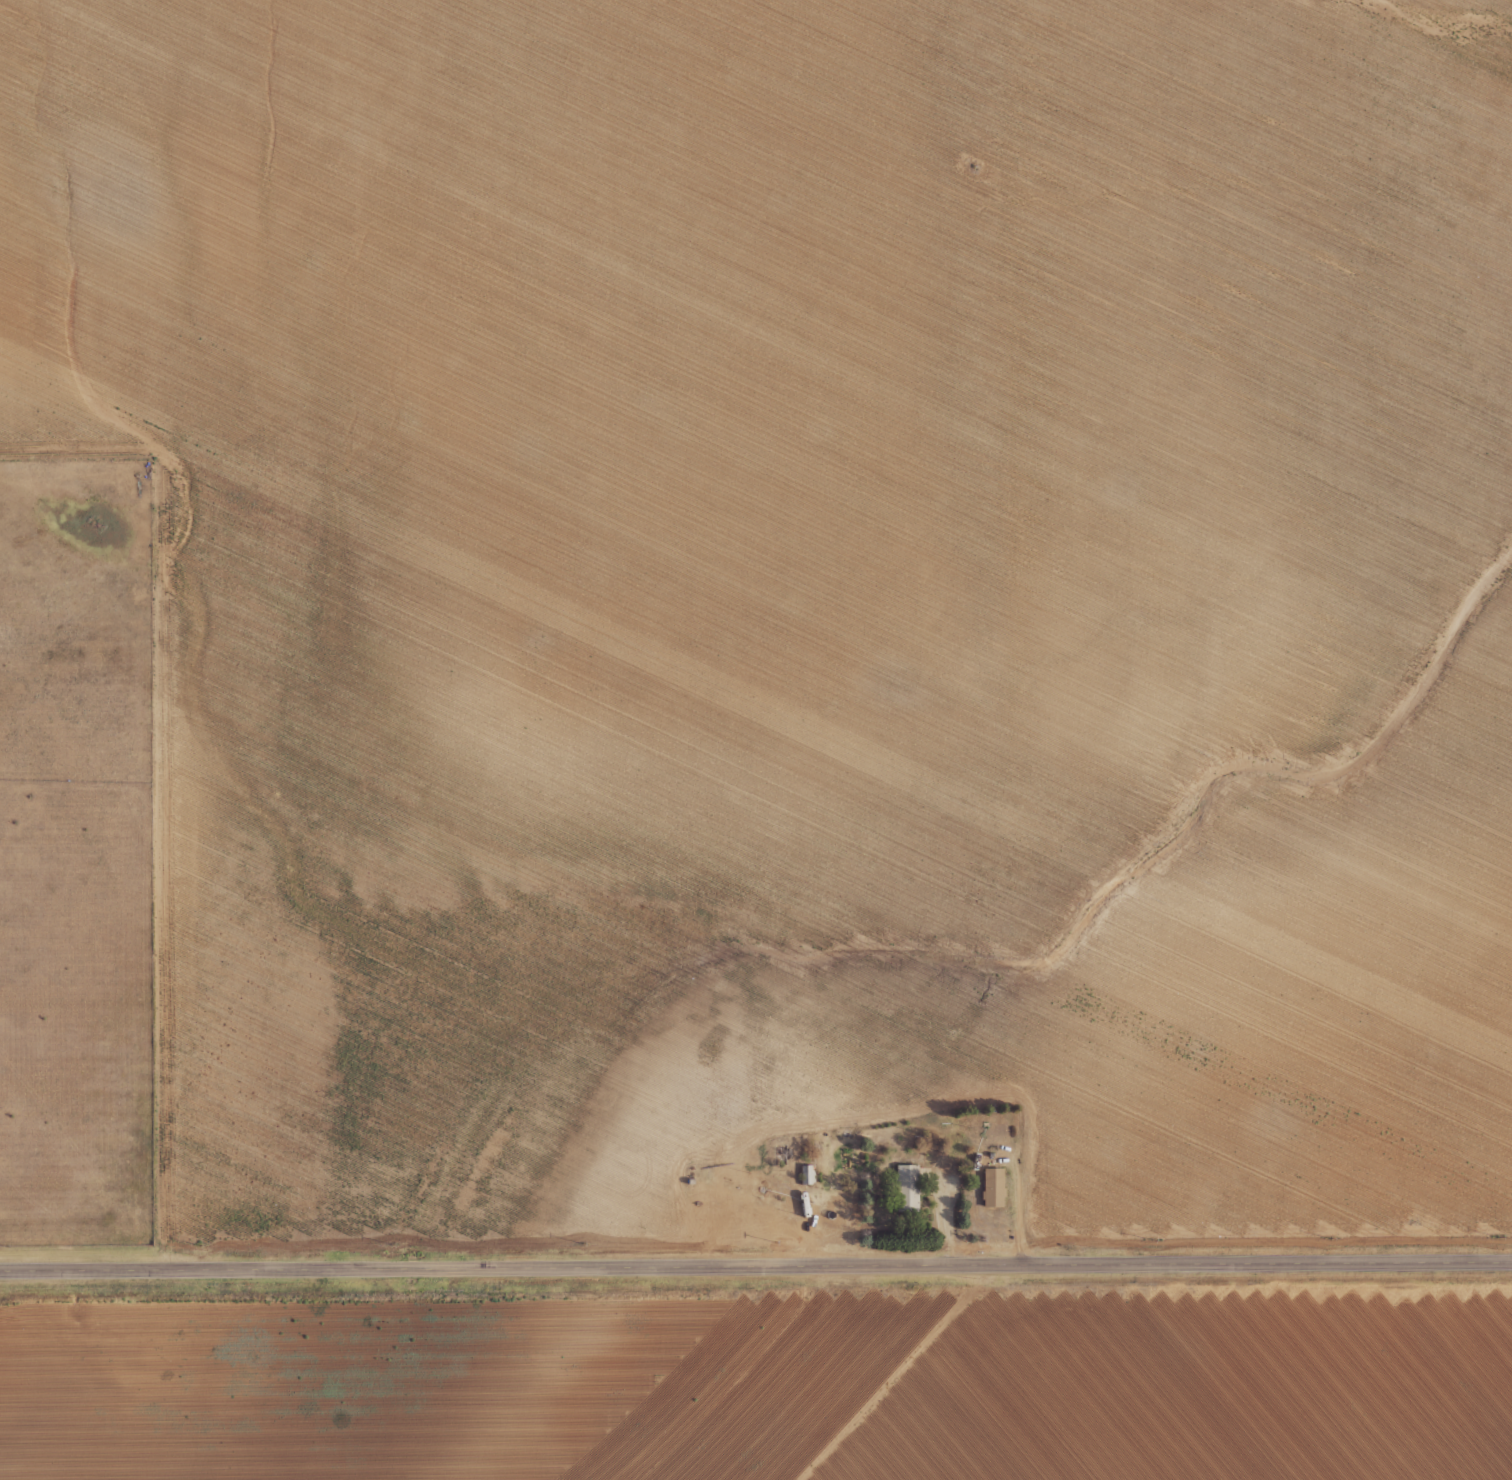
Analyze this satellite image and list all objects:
building: (993, 1186)
building: (907, 1187)
road: (756, 1265)

